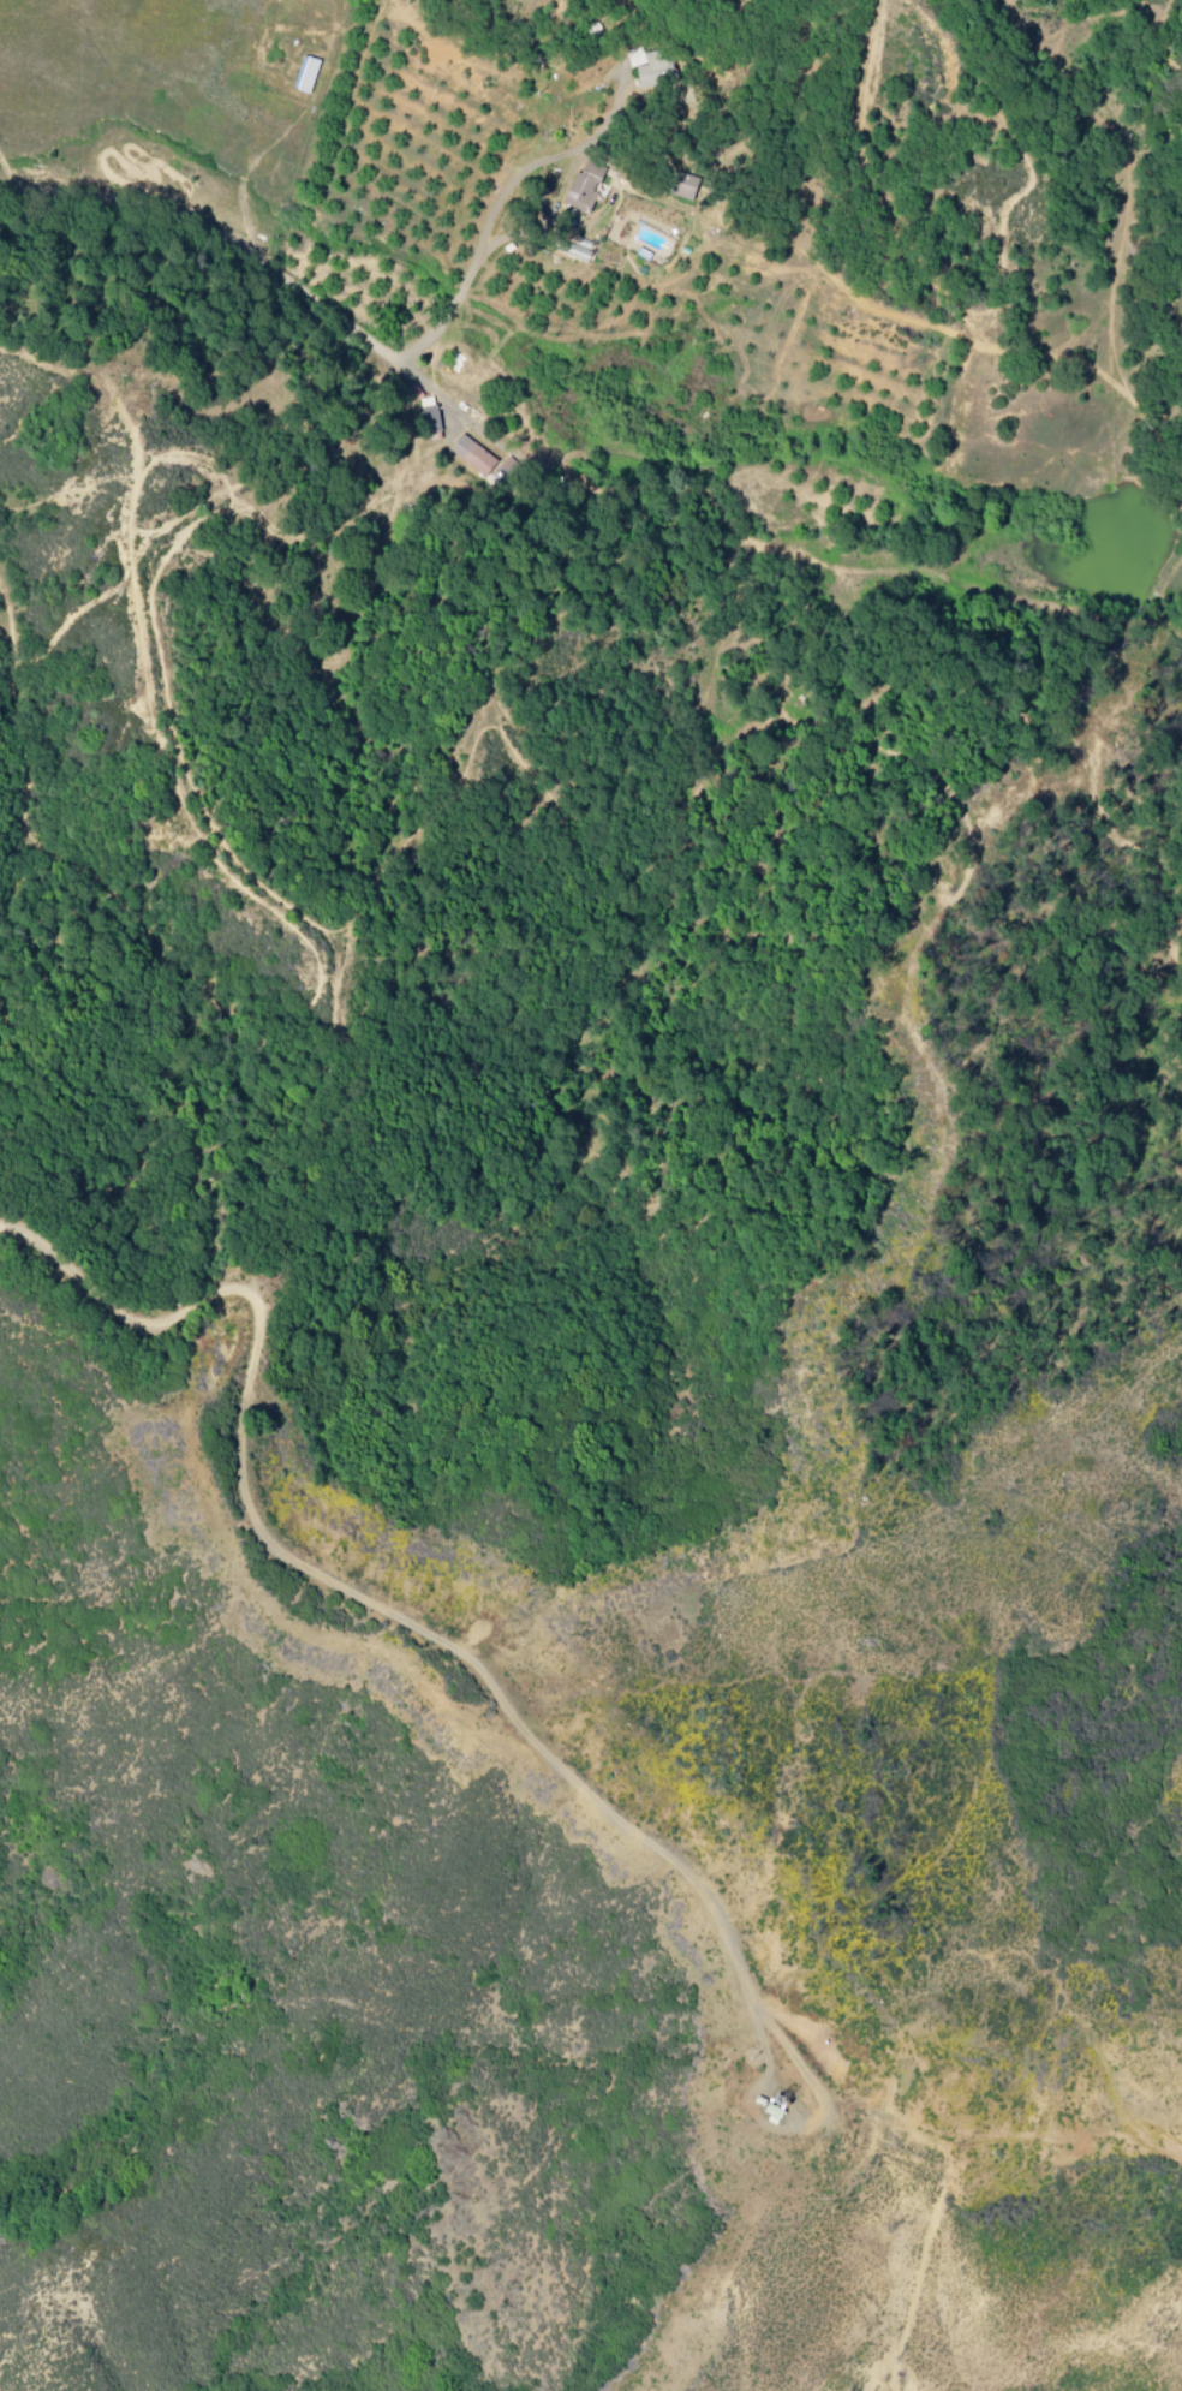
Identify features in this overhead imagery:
building: (657, 73)
building: (314, 78)
road: (288, 137)
building: (591, 191)
road: (503, 198)
road: (216, 229)
road: (435, 392)
building: (480, 460)
road: (389, 1609)
road: (889, 2118)
road: (942, 2154)
road: (959, 2159)

